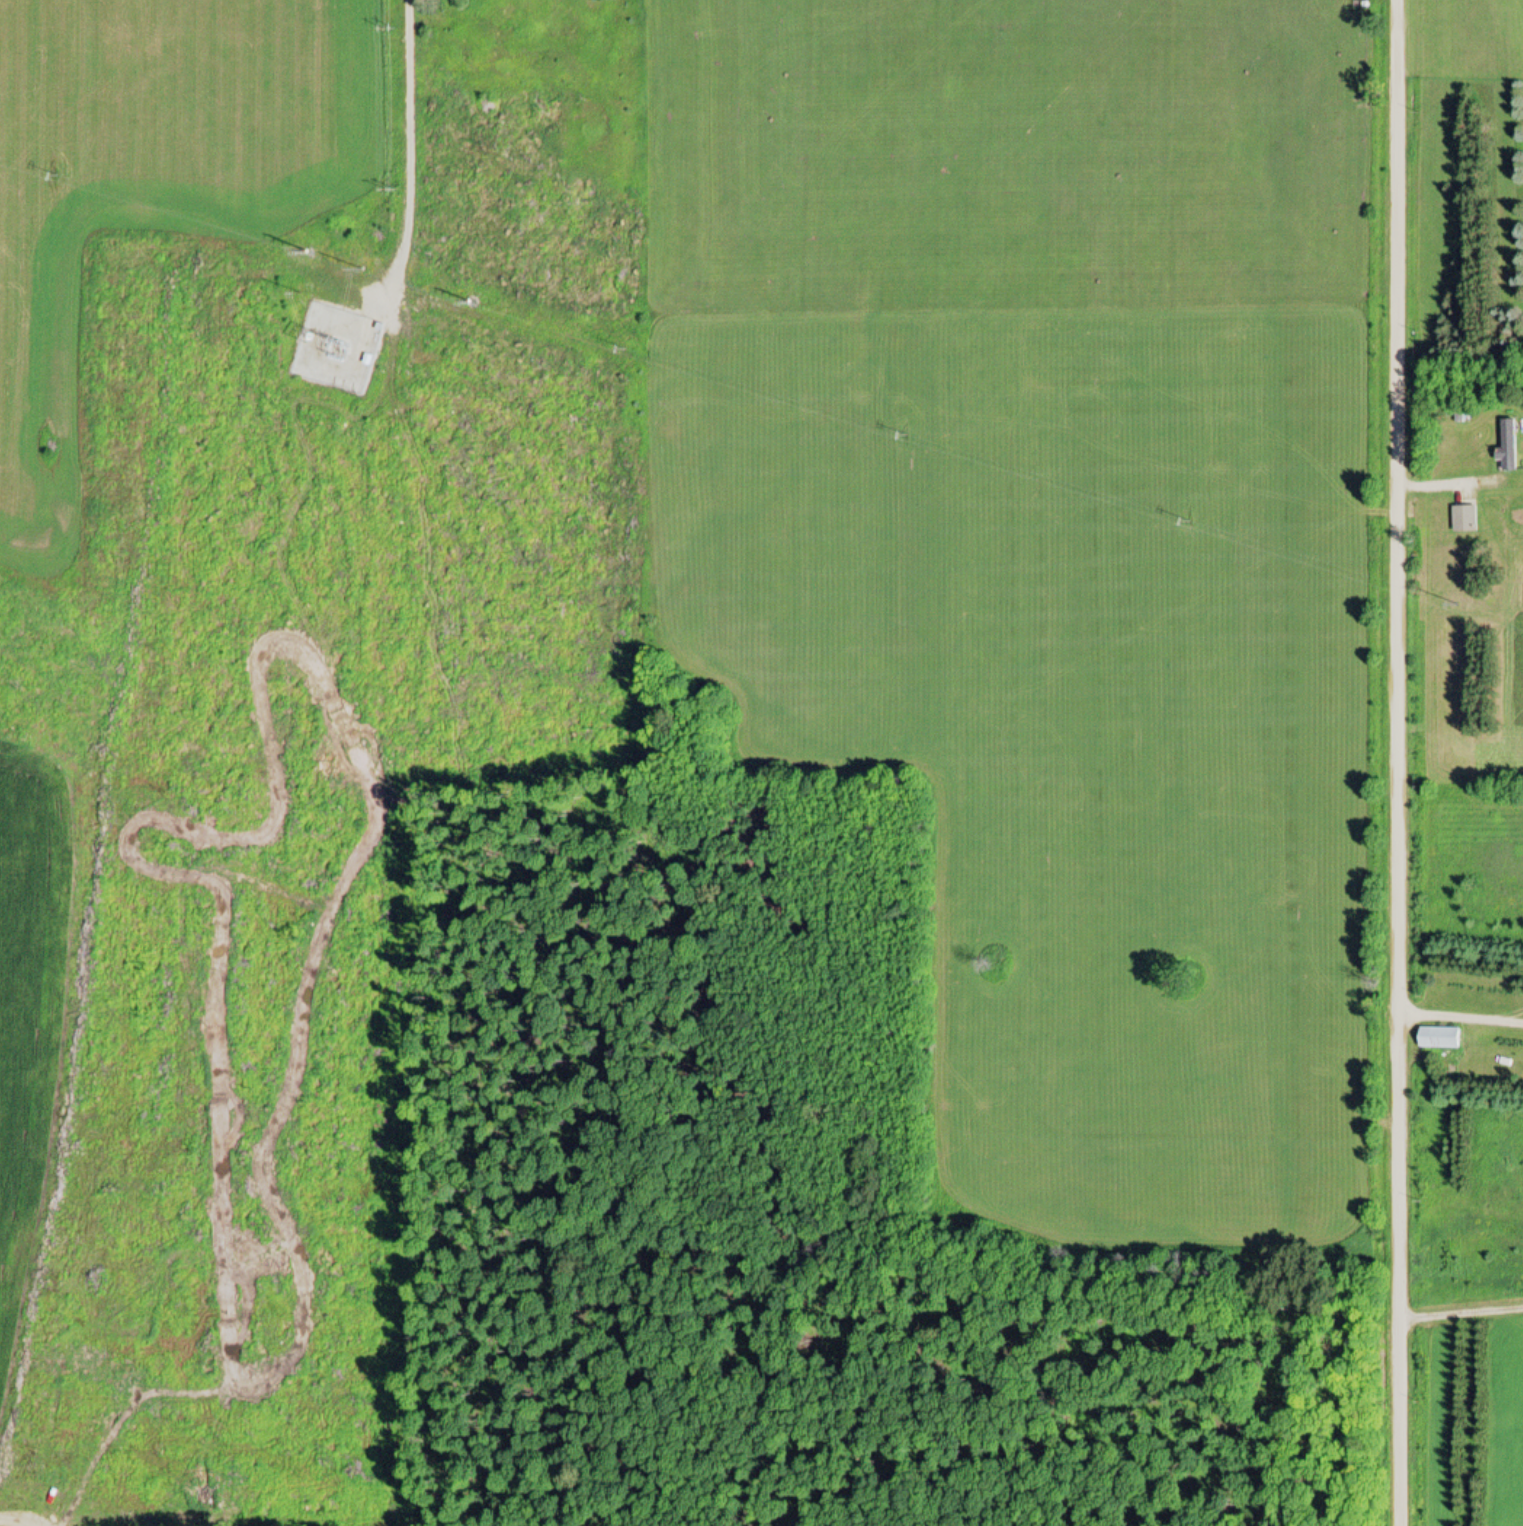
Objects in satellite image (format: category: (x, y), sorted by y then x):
road: (406, 151)
power substation: (334, 349)
building: (1506, 445)
building: (1463, 517)
road: (1406, 762)
road: (1463, 1021)
building: (1435, 1039)

